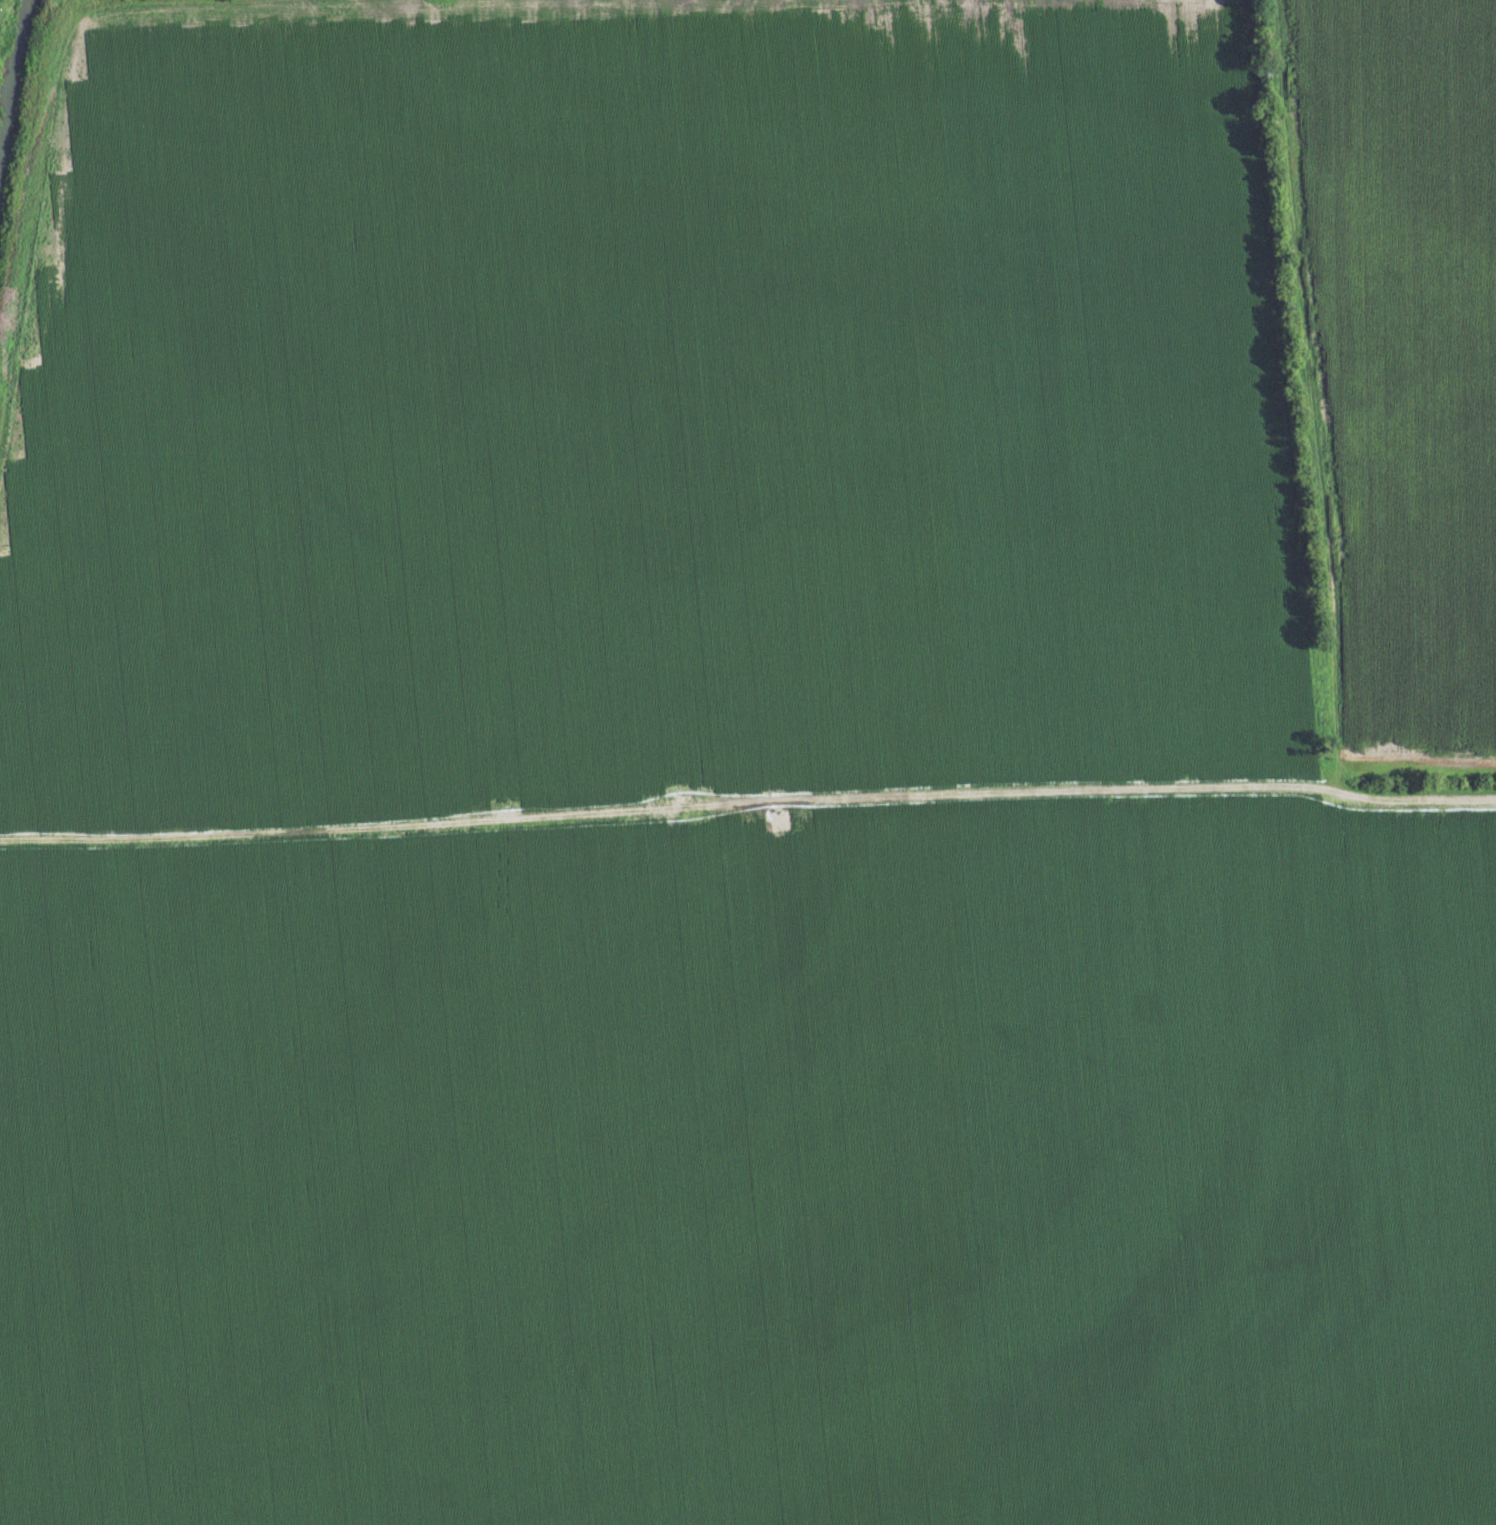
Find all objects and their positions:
river: (14, 90)

